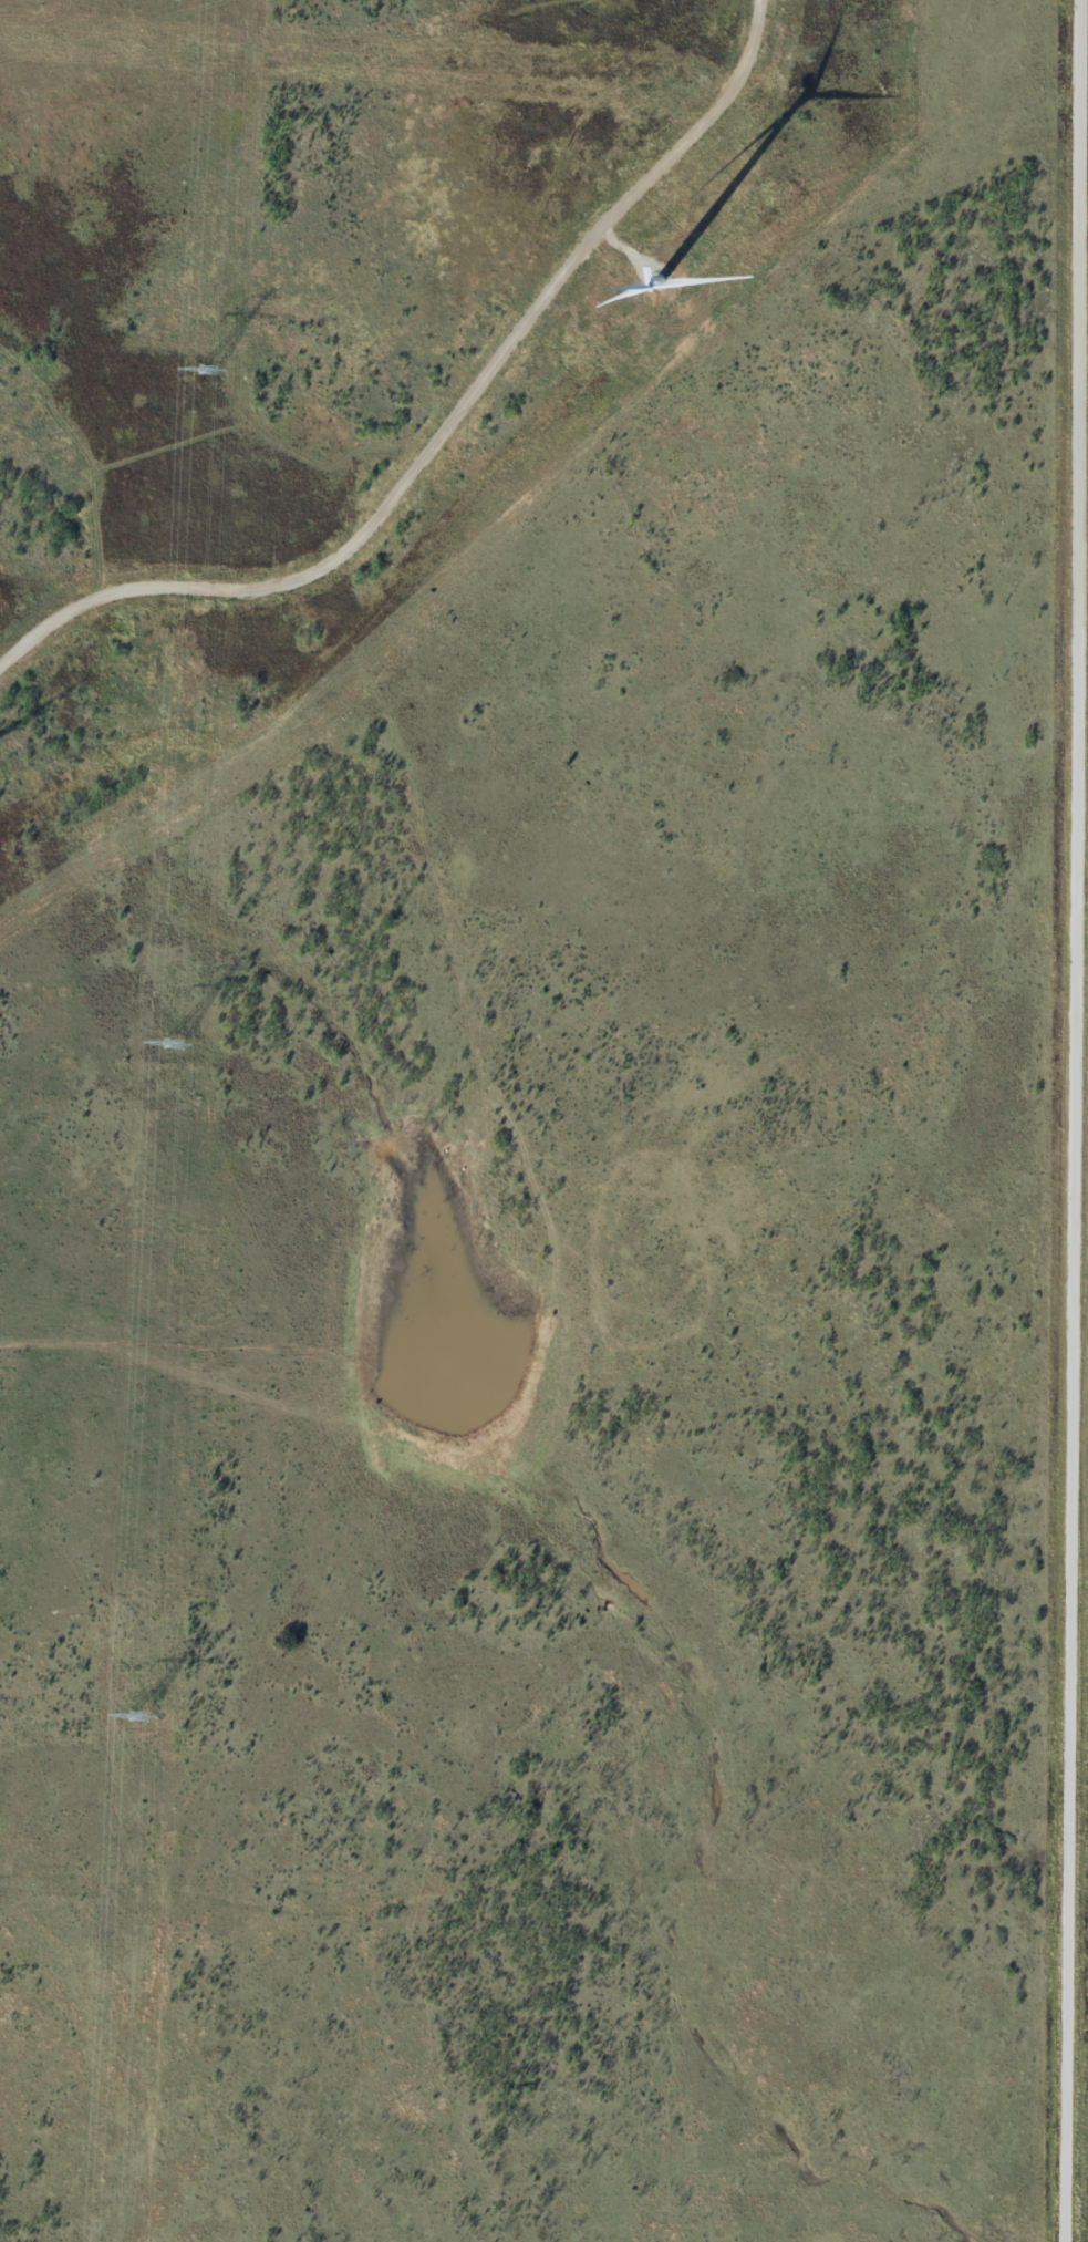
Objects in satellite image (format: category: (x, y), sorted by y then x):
road: (1087, 63)
wind turbine: (660, 282)
power tower: (206, 368)
power tower: (173, 1043)
road: (1077, 1291)
power tower: (138, 1712)

